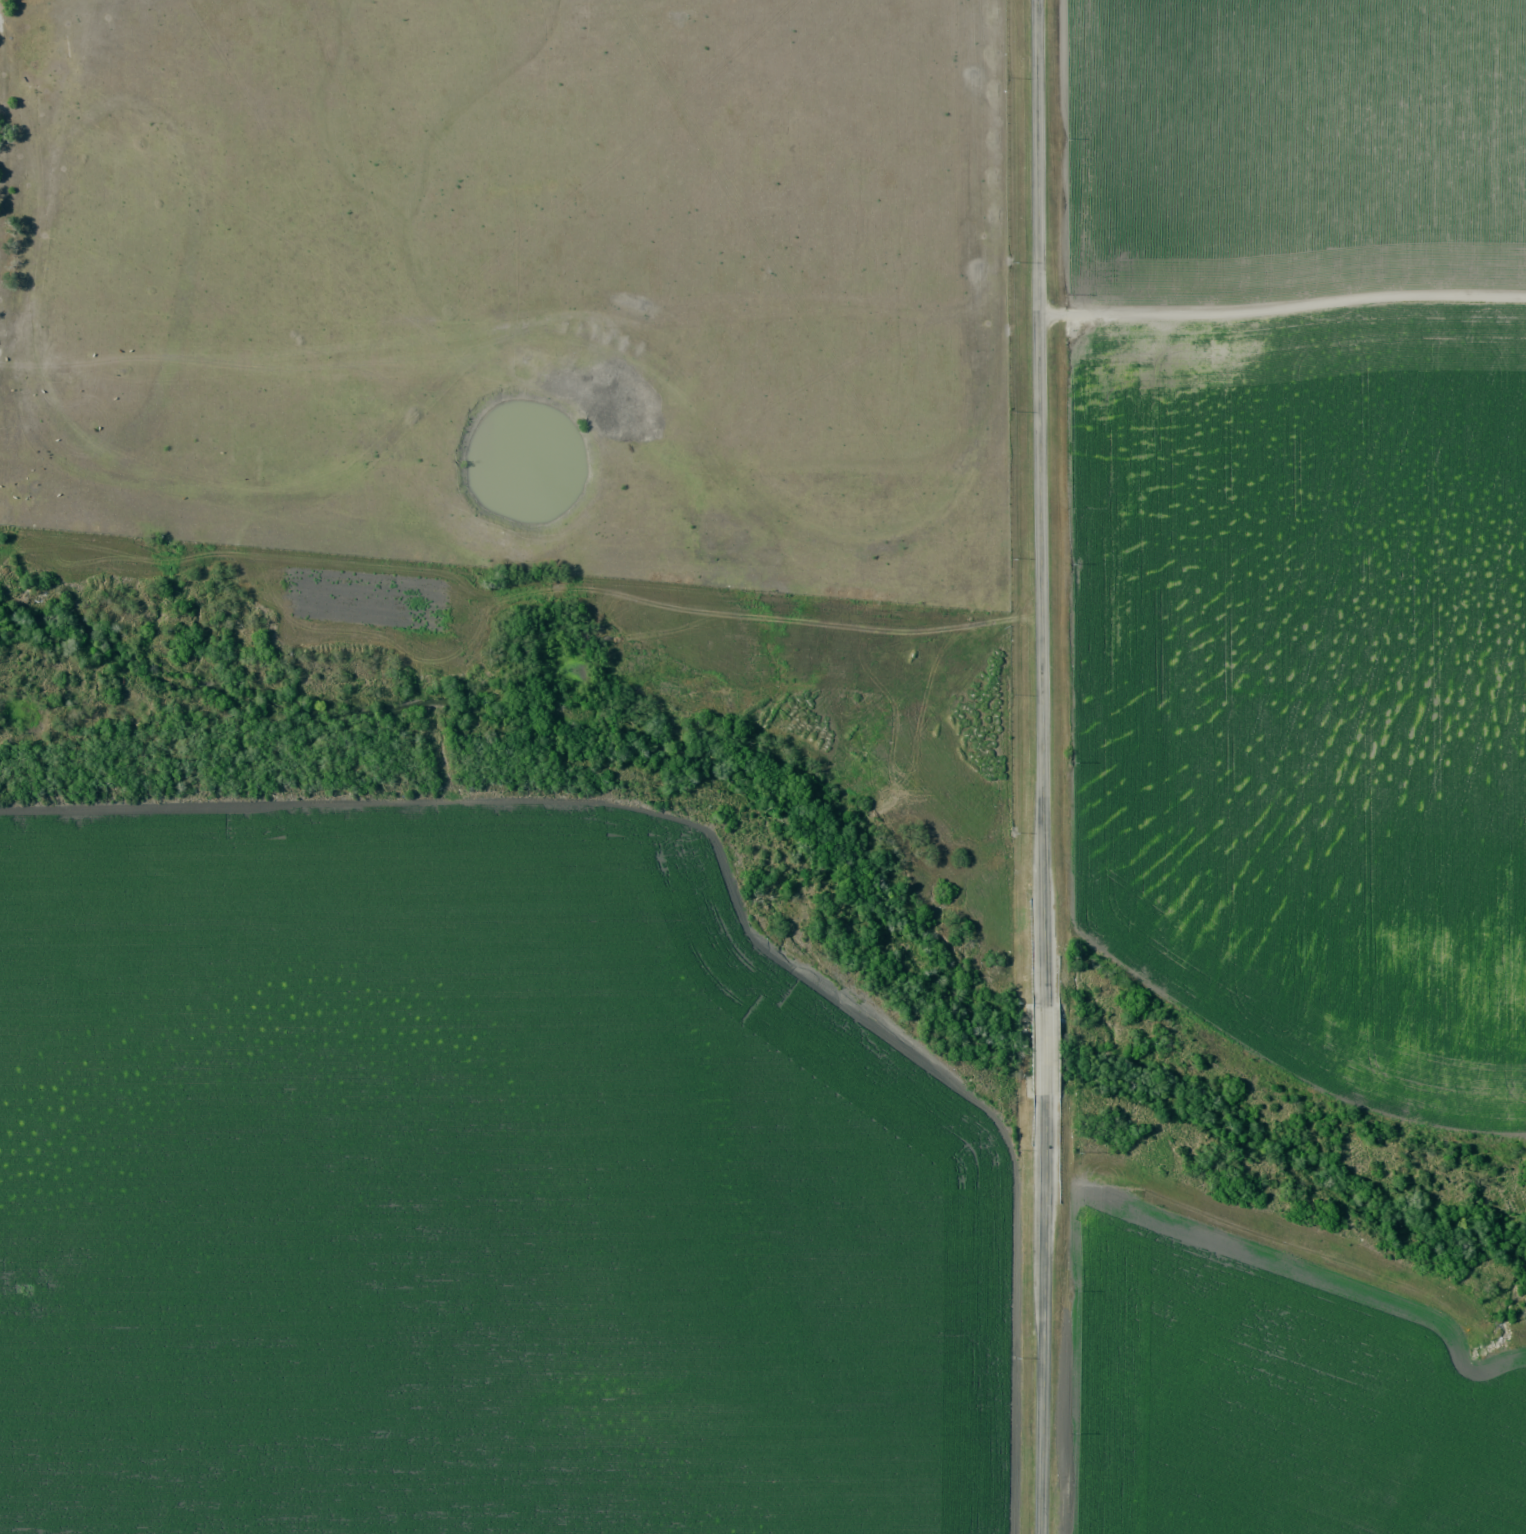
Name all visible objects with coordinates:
road: (1284, 308)
road: (1042, 503)
road: (1043, 1050)
road: (1044, 1313)

